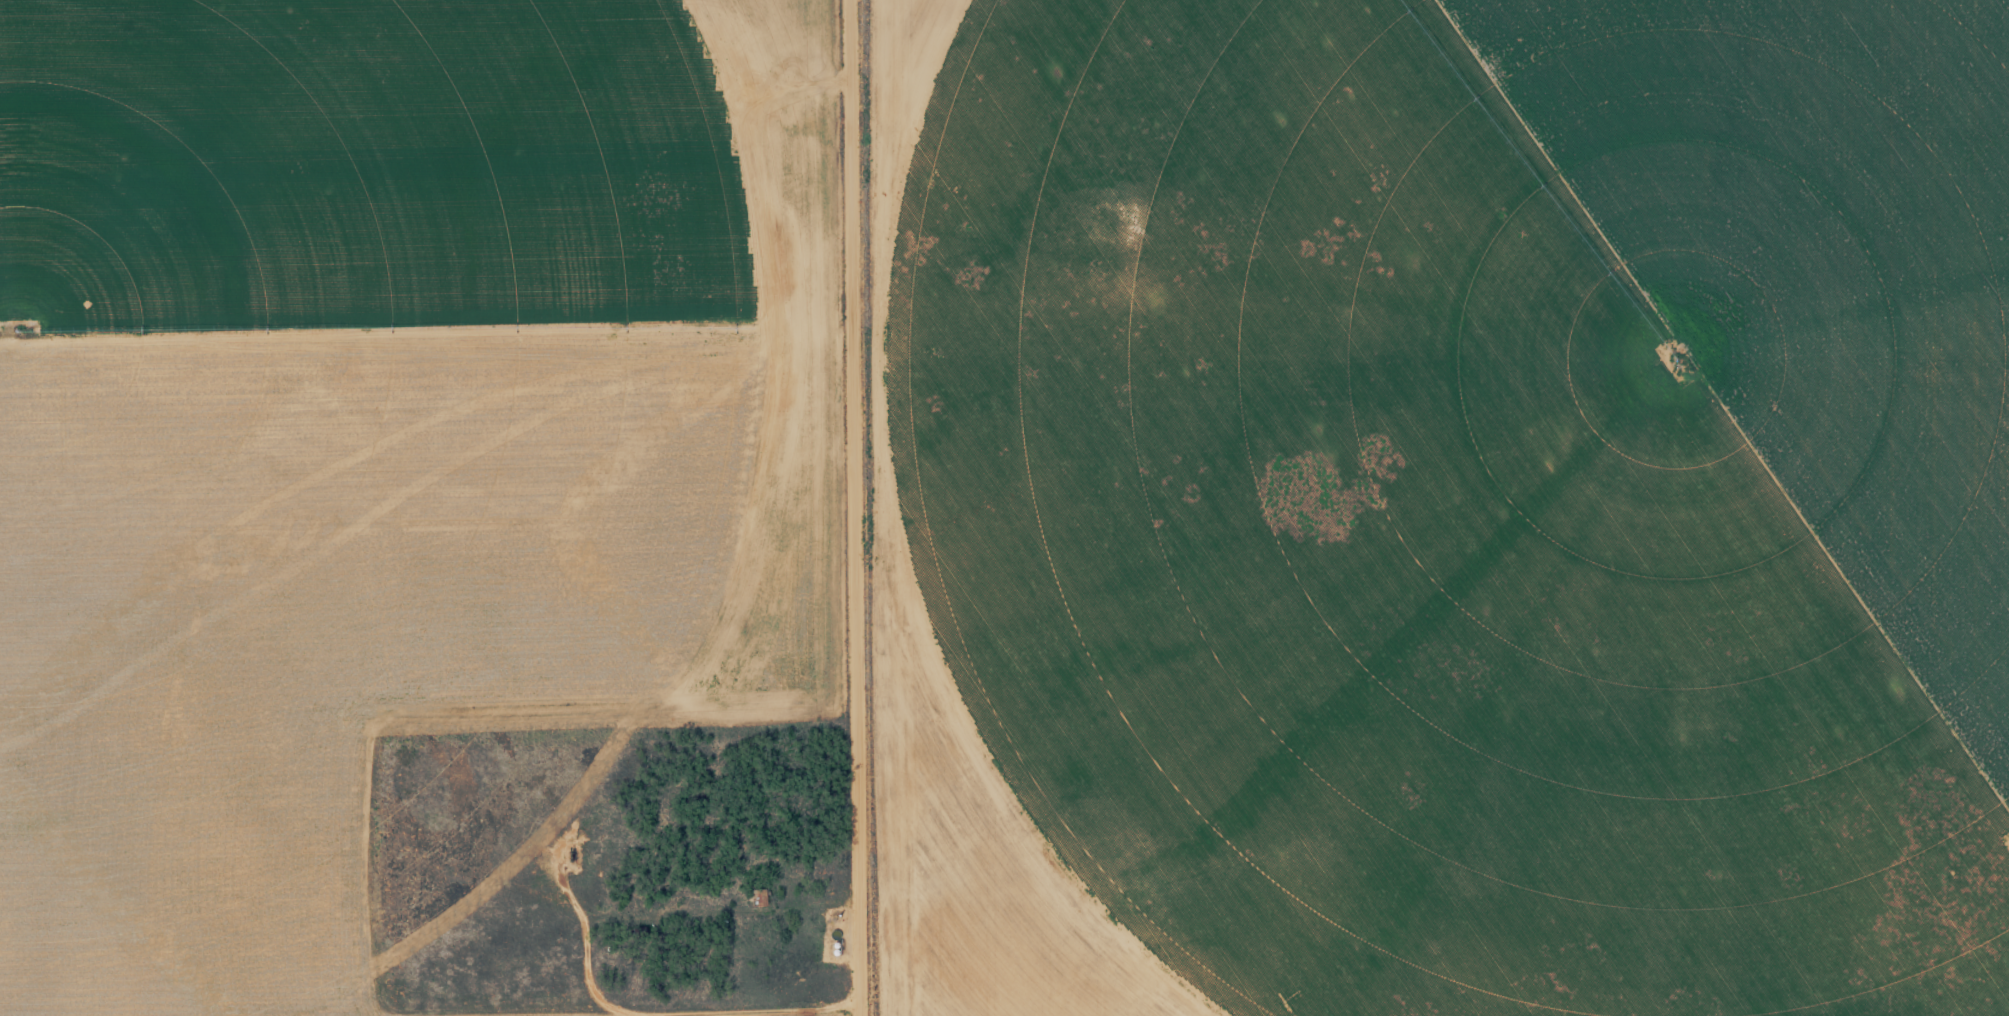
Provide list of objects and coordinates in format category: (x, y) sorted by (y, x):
road: (851, 507)
road: (1668, 507)
road: (600, 907)

